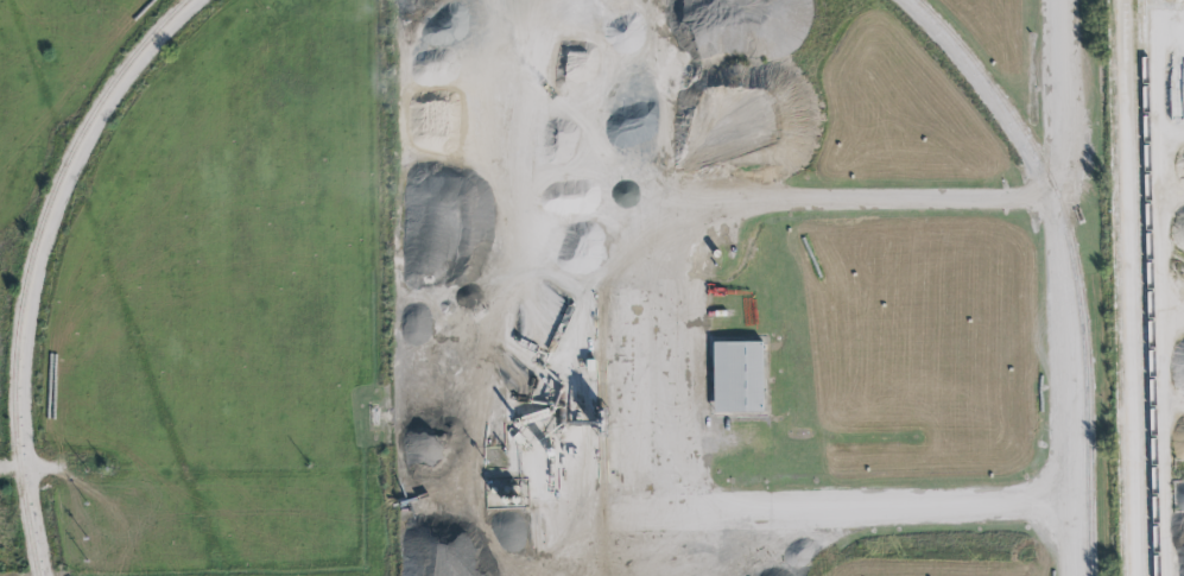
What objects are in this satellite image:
road: (1062, 100)
railway: (1071, 262)
railway: (29, 266)
railway: (1115, 287)
railway: (1135, 303)
railway: (1147, 303)
building: (739, 378)
road: (720, 504)

